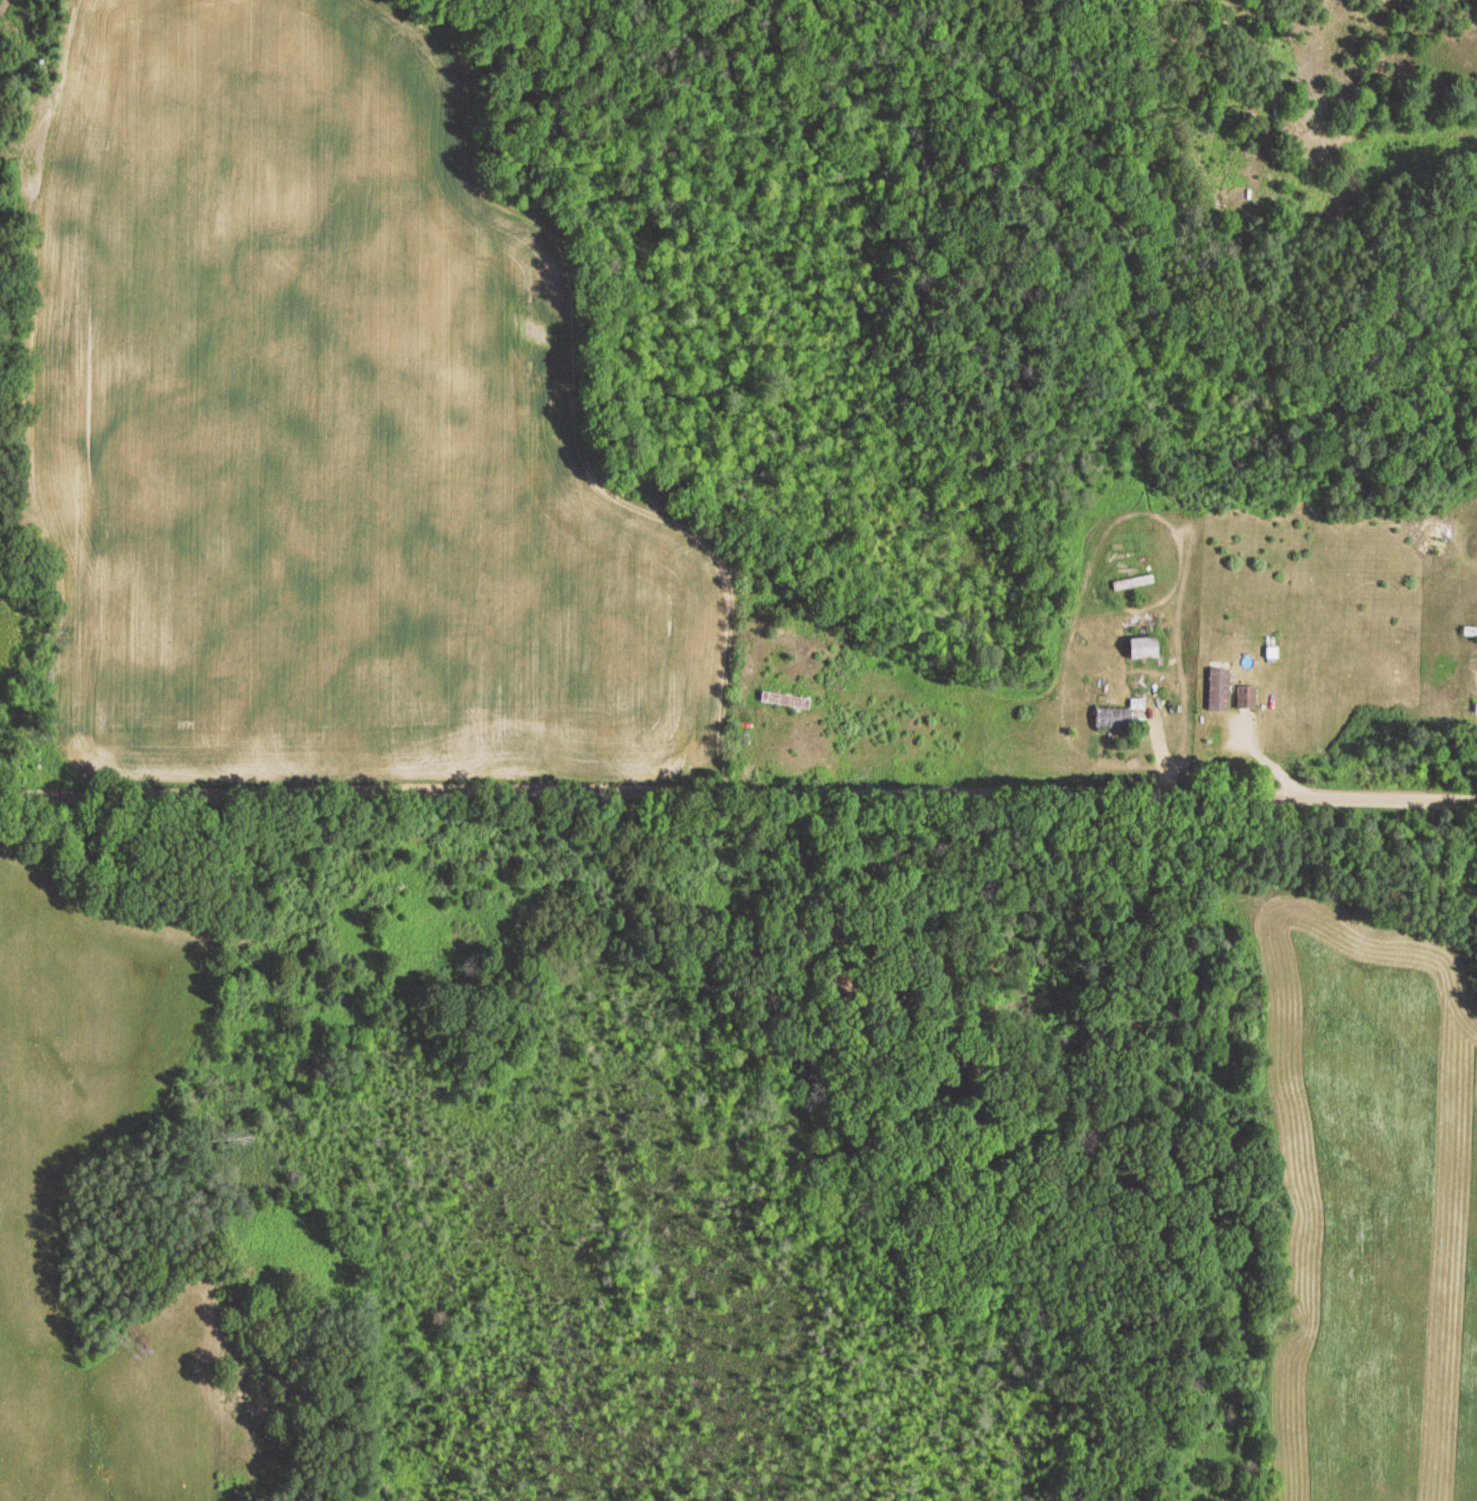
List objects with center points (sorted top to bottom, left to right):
crop: (328, 419)
building: (1472, 633)
building: (1149, 649)
building: (1222, 690)
building: (1249, 697)
building: (790, 700)
building: (1476, 711)
building: (1116, 718)
road: (738, 791)
crop: (30, 1216)

